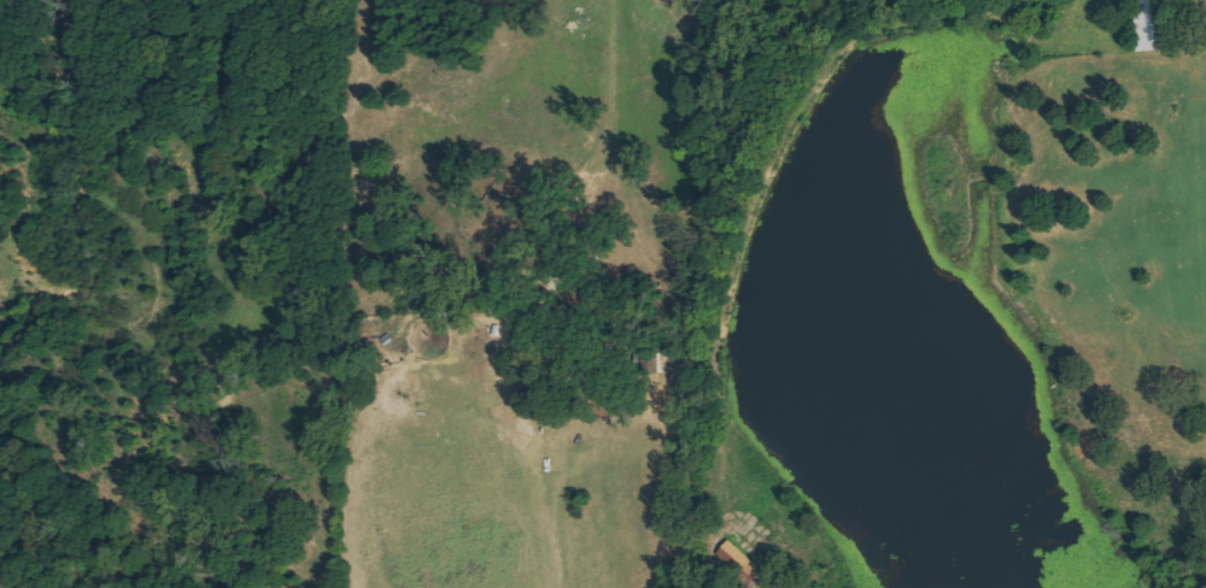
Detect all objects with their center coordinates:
building: (1158, 24)
road: (557, 512)
building: (742, 563)

